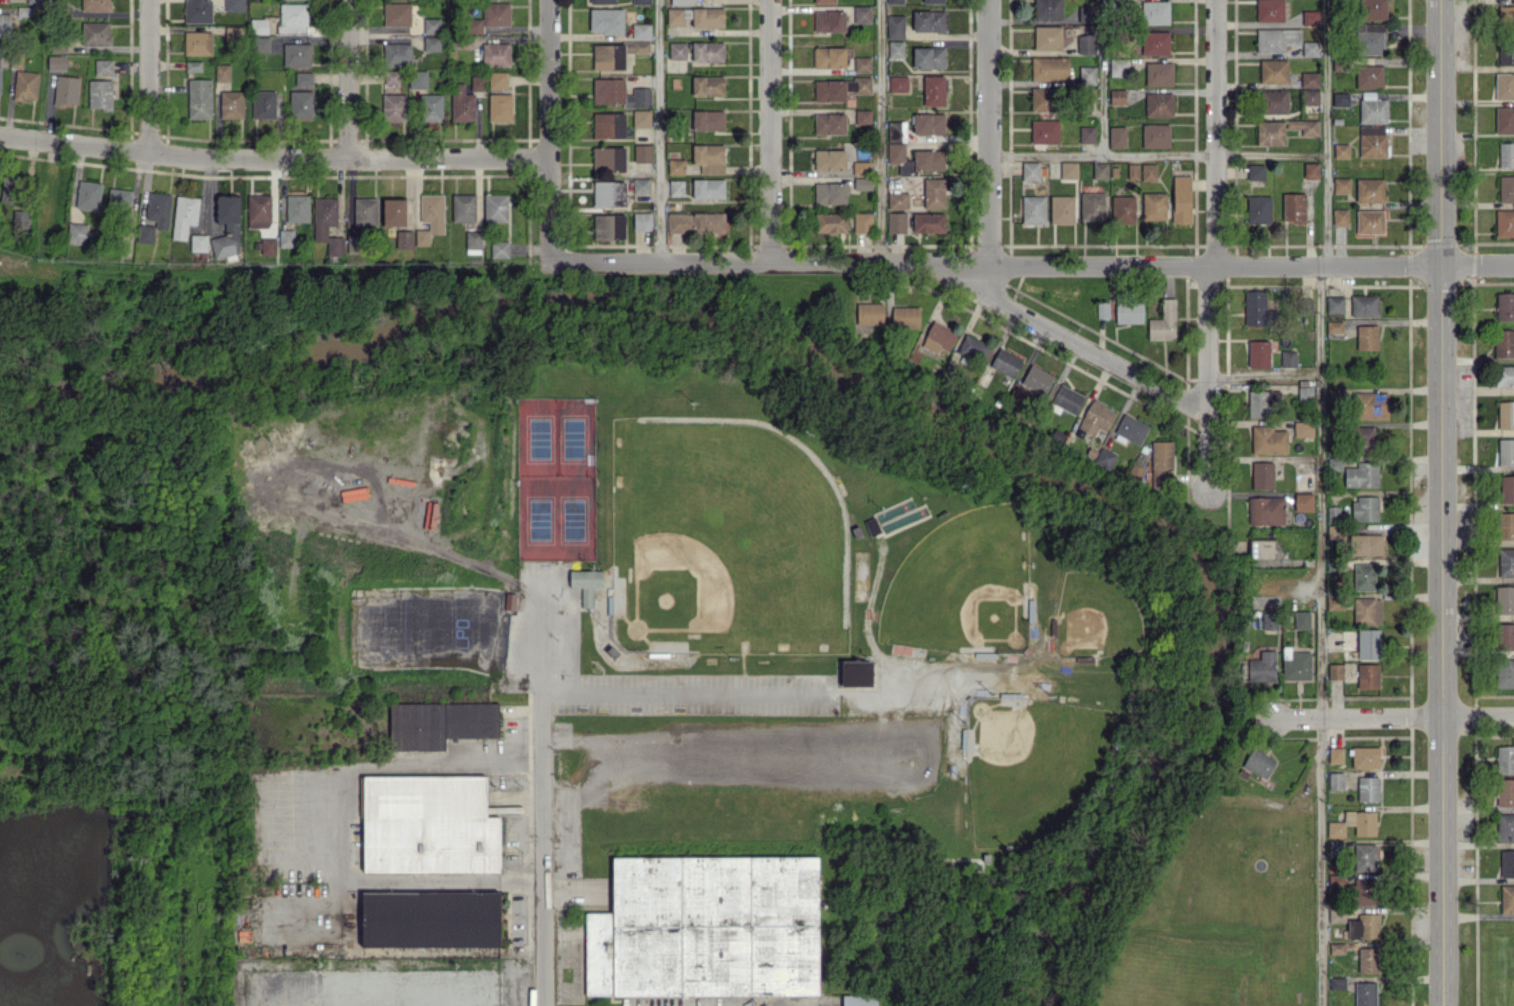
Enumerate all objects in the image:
building: (35, 1)
building: (602, 1)
building: (823, 1)
building: (895, 1)
building: (933, 1)
building: (641, 2)
building: (681, 2)
building: (95, 5)
building: (234, 5)
building: (1047, 9)
building: (1372, 9)
building: (1269, 10)
building: (198, 11)
building: (1155, 12)
building: (396, 14)
building: (862, 14)
building: (1086, 14)
building: (674, 16)
building: (293, 17)
building: (490, 17)
building: (708, 17)
building: (1310, 17)
building: (1506, 17)
building: (606, 20)
building: (928, 20)
building: (829, 21)
building: (5, 25)
building: (431, 25)
building: (258, 26)
building: (895, 26)
building: (640, 31)
building: (95, 33)
building: (233, 34)
building: (1047, 37)
building: (1370, 38)
building: (1276, 39)
building: (1154, 42)
building: (198, 43)
building: (431, 43)
building: (263, 44)
building: (1086, 44)
building: (637, 47)
building: (1310, 48)
building: (895, 49)
building: (677, 50)
building: (0, 51)
building: (708, 52)
building: (1506, 52)
building: (397, 54)
building: (495, 54)
building: (297, 55)
building: (608, 57)
building: (829, 57)
building: (928, 57)
building: (56, 62)
building: (862, 64)
building: (103, 66)
building: (193, 66)
building: (1049, 68)
building: (1115, 70)
building: (1273, 71)
building: (222, 72)
building: (1159, 73)
building: (1087, 75)
road: (149, 76)
building: (1369, 76)
building: (392, 77)
road: (1102, 77)
building: (303, 78)
building: (418, 79)
building: (1309, 79)
road: (346, 80)
building: (497, 80)
building: (477, 83)
building: (897, 83)
building: (25, 85)
building: (708, 85)
building: (1504, 86)
building: (839, 88)
building: (66, 89)
building: (608, 90)
building: (934, 90)
building: (100, 94)
building: (1117, 96)
building: (638, 97)
building: (1310, 97)
building: (199, 98)
building: (1340, 98)
building: (1043, 99)
building: (1274, 101)
building: (461, 103)
building: (231, 104)
building: (263, 104)
building: (300, 104)
building: (1158, 104)
building: (393, 107)
building: (432, 107)
building: (499, 107)
building: (1372, 108)
building: (862, 117)
building: (641, 118)
building: (708, 120)
building: (1504, 120)
building: (829, 123)
building: (928, 123)
building: (608, 125)
building: (1303, 126)
road: (548, 131)
road: (659, 131)
road: (769, 131)
road: (879, 131)
building: (896, 131)
building: (1044, 131)
road: (987, 132)
road: (1214, 132)
building: (1270, 132)
road: (1325, 132)
building: (1087, 134)
building: (1155, 135)
building: (1117, 136)
building: (1372, 141)
building: (1341, 150)
building: (642, 153)
road: (1157, 154)
building: (1506, 154)
building: (709, 158)
building: (608, 159)
building: (830, 159)
building: (915, 159)
road: (273, 161)
building: (676, 166)
building: (860, 167)
building: (1068, 170)
building: (1100, 170)
building: (1311, 170)
building: (1030, 171)
building: (1132, 171)
building: (1255, 171)
building: (1148, 172)
building: (862, 183)
building: (640, 185)
building: (1341, 185)
building: (676, 188)
building: (708, 188)
building: (1506, 188)
building: (12, 190)
building: (1369, 190)
building: (609, 193)
building: (830, 193)
building: (934, 193)
building: (88, 195)
building: (119, 199)
building: (1181, 199)
building: (897, 200)
building: (1092, 205)
building: (1153, 206)
building: (463, 207)
building: (1293, 207)
building: (297, 208)
building: (495, 208)
building: (158, 209)
building: (1033, 209)
building: (1061, 209)
building: (1122, 209)
building: (1258, 209)
building: (258, 210)
building: (365, 211)
building: (393, 212)
building: (432, 212)
building: (184, 215)
building: (1340, 217)
building: (21, 219)
building: (324, 219)
building: (642, 221)
building: (862, 221)
building: (1369, 221)
building: (696, 222)
building: (831, 222)
building: (896, 222)
building: (928, 222)
building: (1504, 222)
building: (609, 226)
building: (234, 229)
building: (77, 233)
building: (145, 233)
building: (421, 237)
building: (286, 238)
building: (404, 239)
building: (473, 239)
building: (198, 242)
building: (268, 246)
building: (499, 248)
traffic signals: (1439, 264)
road: (1031, 265)
building: (1334, 304)
building: (1364, 305)
building: (1504, 306)
building: (1255, 307)
building: (1103, 310)
building: (1129, 312)
building: (869, 313)
building: (905, 317)
building: (1163, 322)
building: (1334, 326)
building: (938, 337)
building: (1366, 337)
building: (1504, 343)
road: (1086, 345)
building: (971, 348)
building: (1258, 353)
building: (1288, 358)
building: (1006, 362)
building: (1504, 375)
road: (1263, 377)
road: (1207, 378)
building: (1036, 380)
building: (1305, 394)
building: (1334, 395)
building: (1064, 397)
building: (1262, 403)
river: (94, 404)
building: (1371, 405)
building: (1505, 414)
building: (1096, 417)
building: (1131, 428)
building: (1303, 428)
river: (938, 429)
building: (1363, 438)
building: (1268, 440)
building: (1505, 451)
building: (1105, 457)
building: (1334, 463)
building: (1161, 464)
building: (1262, 474)
building: (1361, 474)
park: (555, 480)
building: (1507, 488)
building: (1303, 501)
road: (1441, 503)
building: (1364, 508)
building: (1266, 510)
building: (1333, 513)
building: (1506, 525)
building: (872, 526)
building: (1332, 531)
park: (723, 542)
building: (1366, 544)
building: (1260, 548)
building: (1506, 562)
building: (1363, 576)
building: (585, 584)
park: (960, 588)
building: (1504, 599)
building: (1334, 601)
building: (1367, 610)
building: (1301, 619)
building: (1268, 620)
park: (1092, 621)
road: (1319, 635)
building: (1504, 636)
building: (1368, 644)
building: (1297, 666)
building: (1261, 667)
building: (1335, 671)
building: (1505, 672)
building: (856, 673)
building: (1367, 675)
road: (678, 691)
road: (1392, 717)
building: (439, 724)
building: (1335, 754)
building: (1365, 757)
road: (928, 759)
building: (1505, 759)
building: (1258, 762)
park: (1033, 767)
building: (1335, 781)
building: (1368, 788)
building: (1505, 792)
road: (545, 801)
building: (1353, 823)
building: (428, 825)
building: (1504, 827)
building: (1335, 847)
building: (1364, 856)
building: (1506, 863)
building: (1356, 888)
building: (1507, 898)
building: (430, 919)
building: (1364, 926)
building: (706, 927)
building: (1368, 959)
building: (1337, 983)
building: (1365, 993)
building: (858, 1000)

